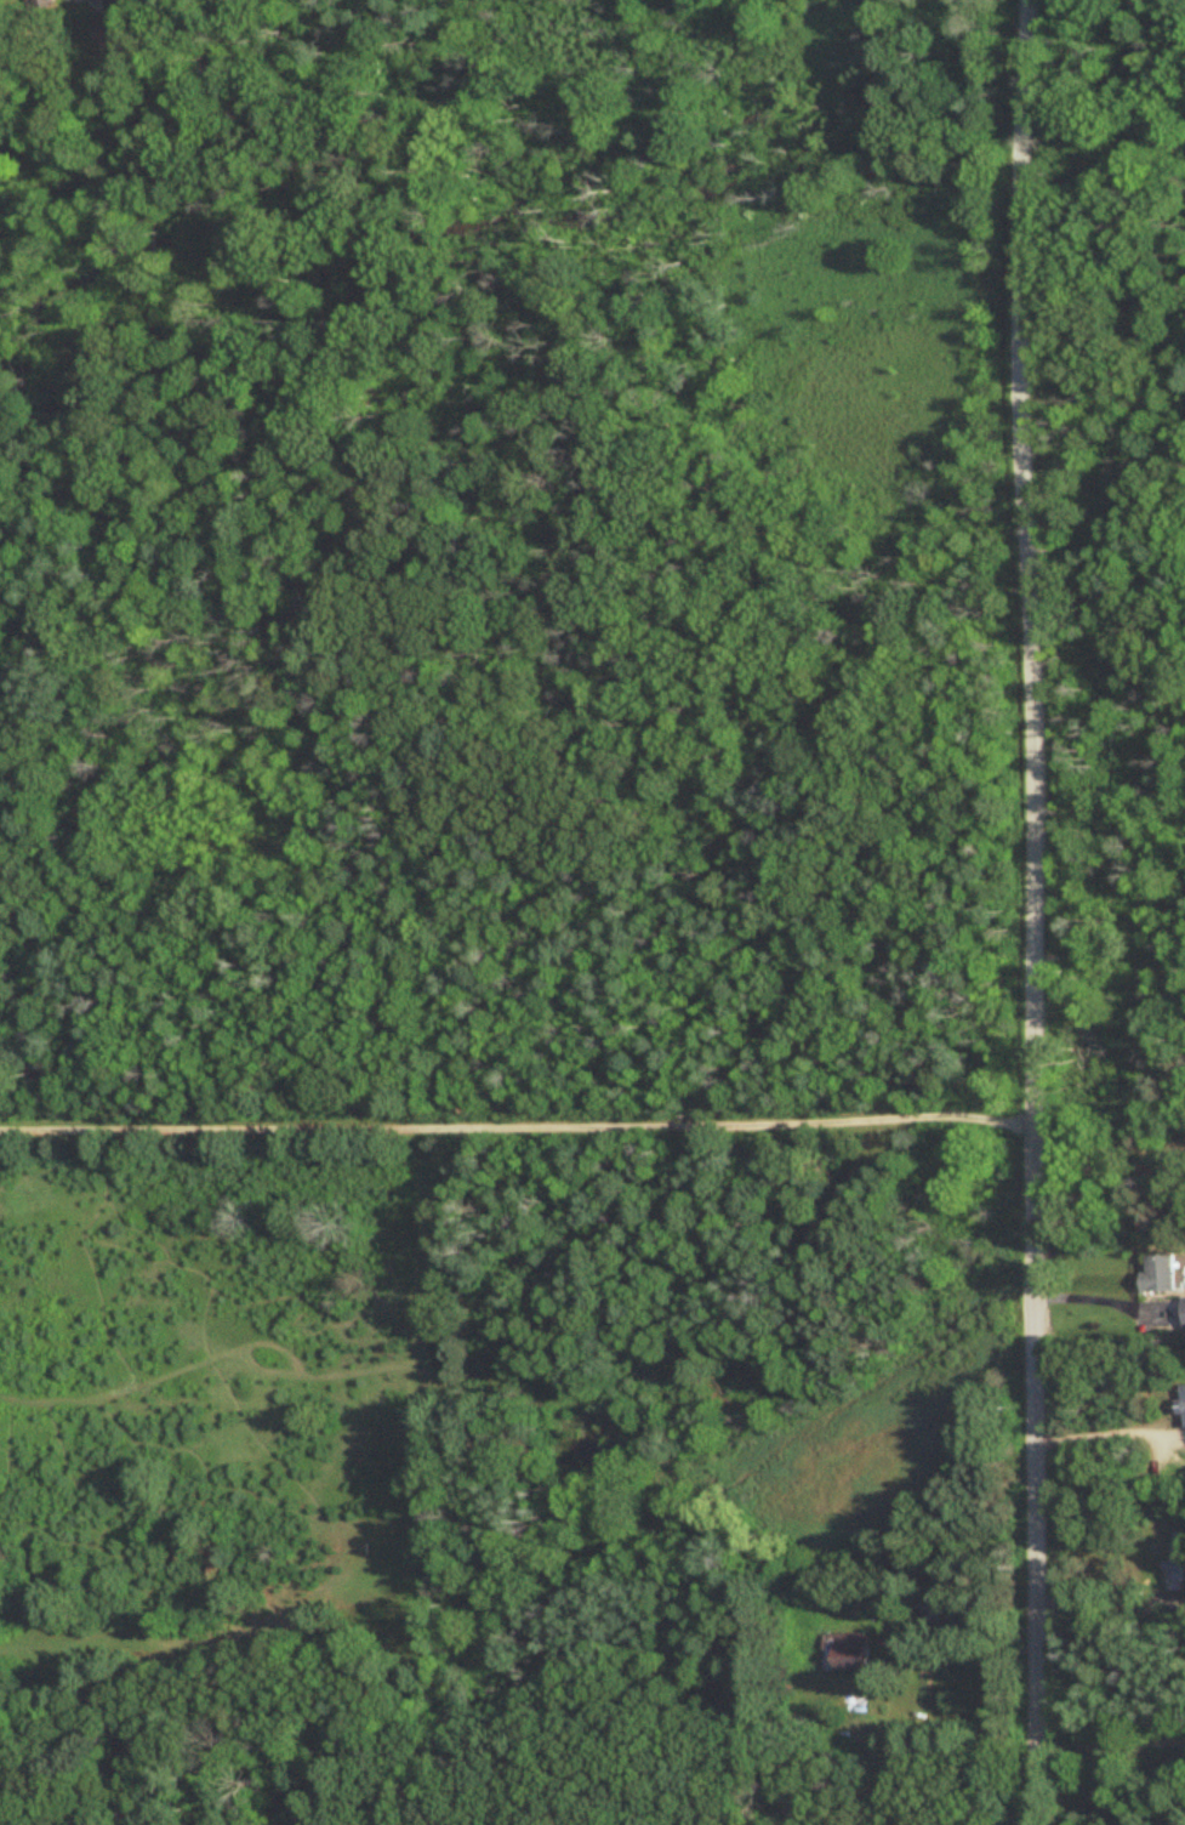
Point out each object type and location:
building: (95, 0)
building: (109, 32)
road: (1033, 911)
road: (517, 1124)
road: (1106, 1144)
building: (1157, 1274)
road: (1096, 1285)
building: (1183, 1313)
building: (1183, 1406)
road: (1107, 1434)
building: (599, 1455)
building: (1175, 1563)
road: (1106, 1604)
building: (843, 1654)

